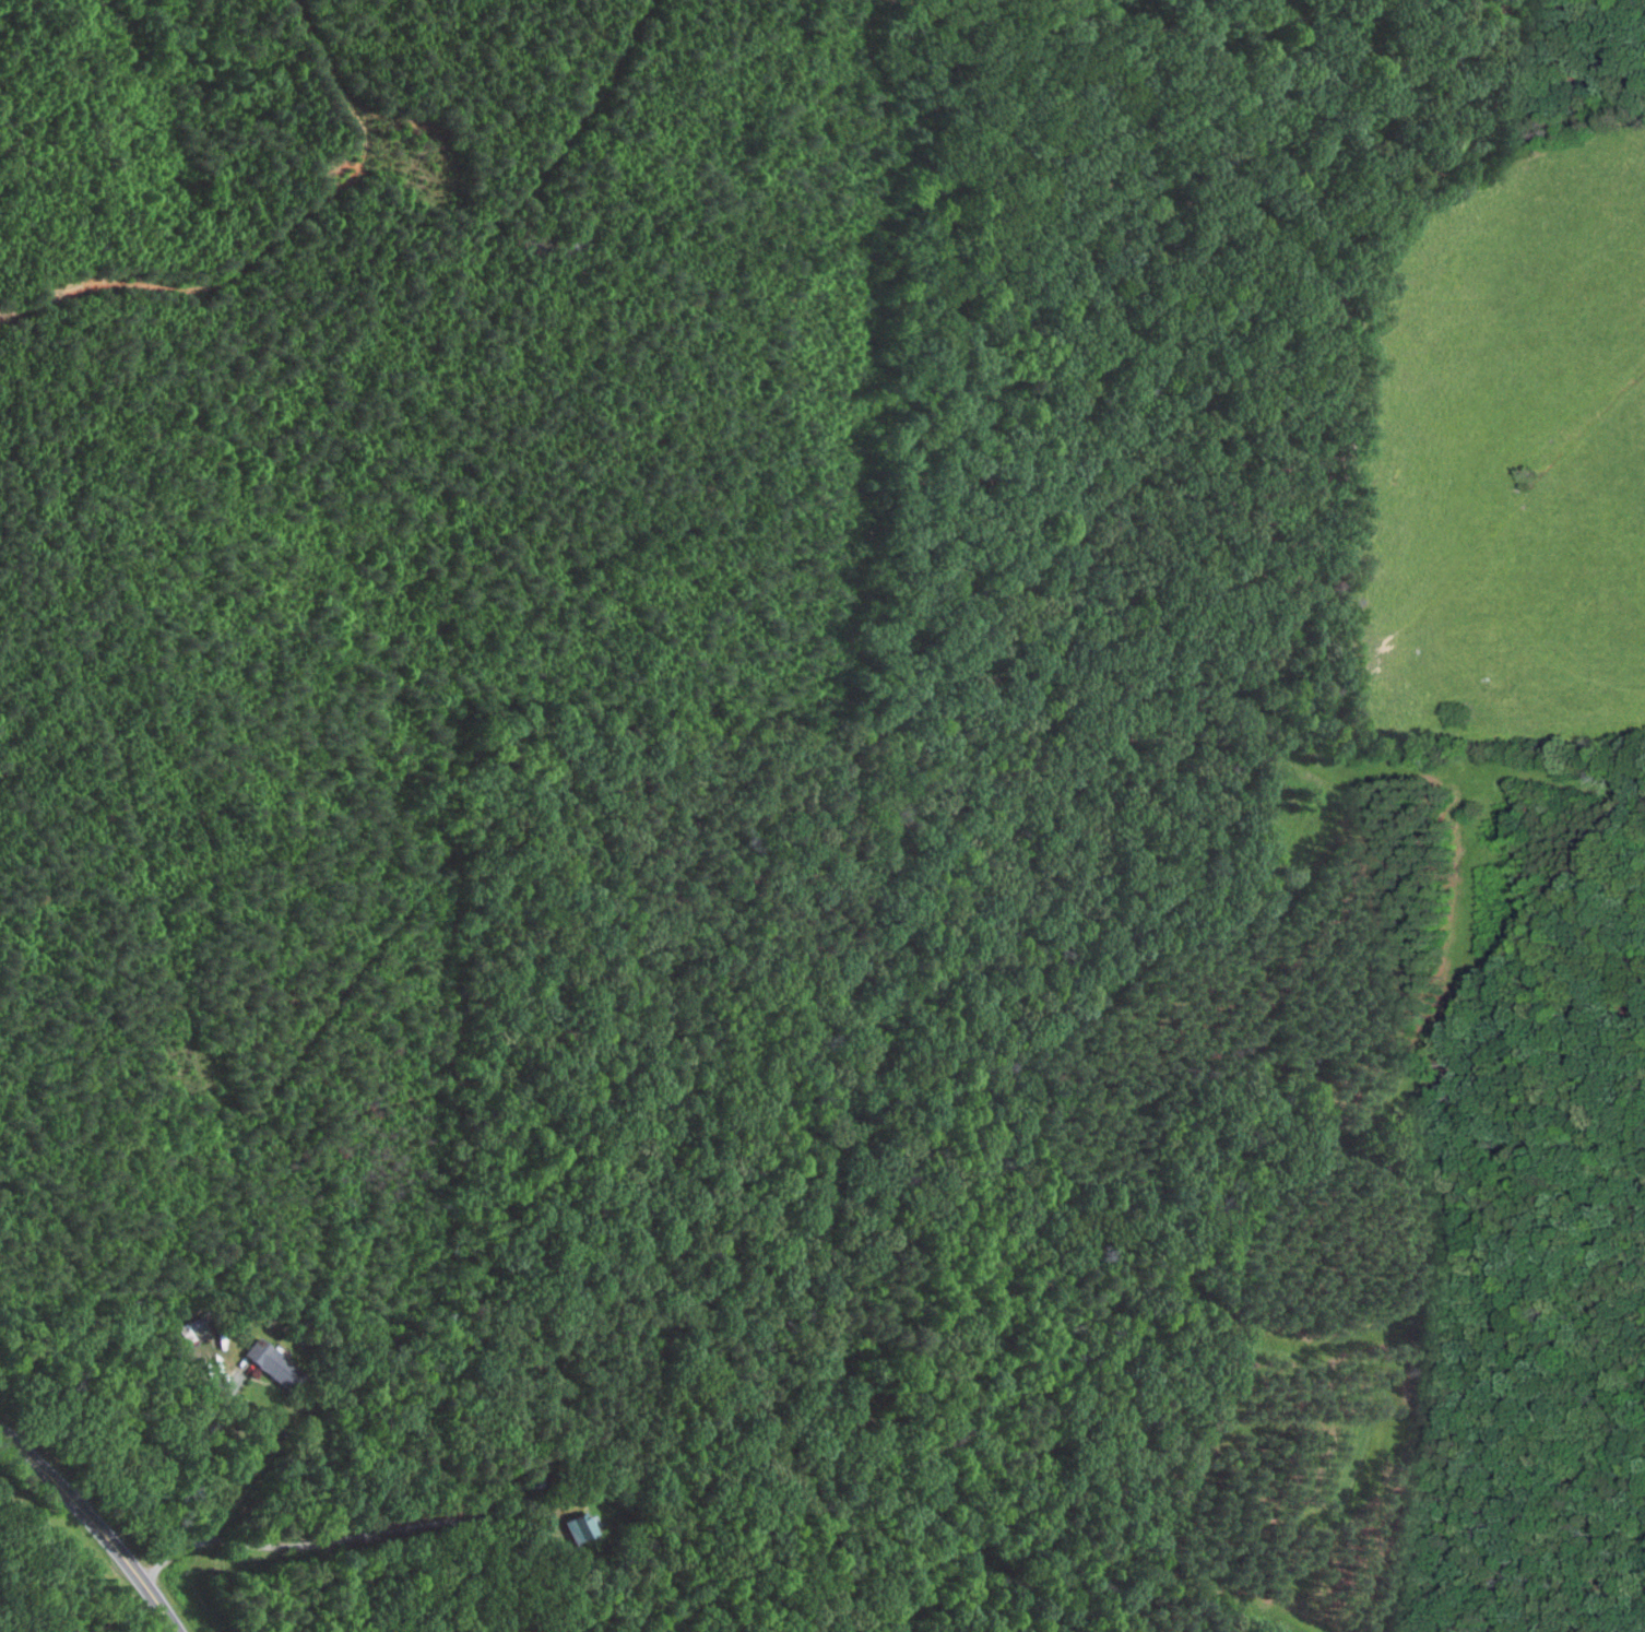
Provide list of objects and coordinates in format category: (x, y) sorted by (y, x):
building: (263, 1362)
road: (174, 1454)
road: (95, 1524)
road: (331, 1539)

